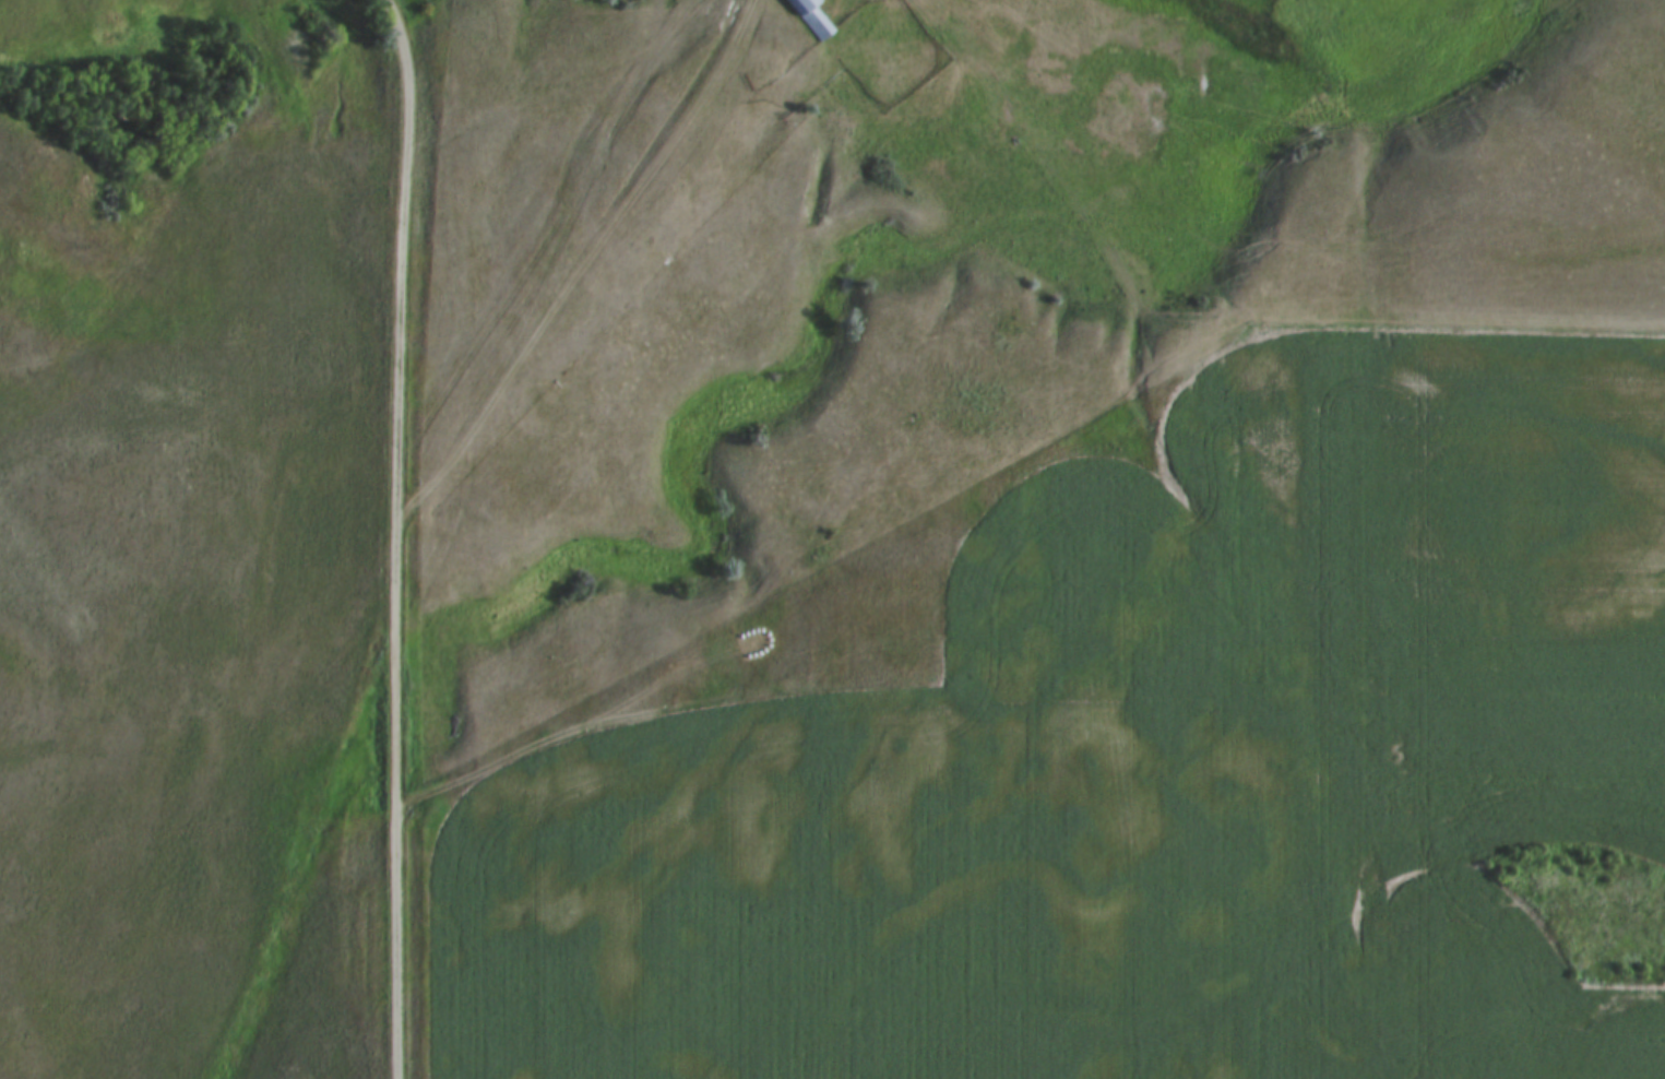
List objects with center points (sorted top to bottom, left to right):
building: (811, 19)
road: (585, 271)
road: (394, 537)

